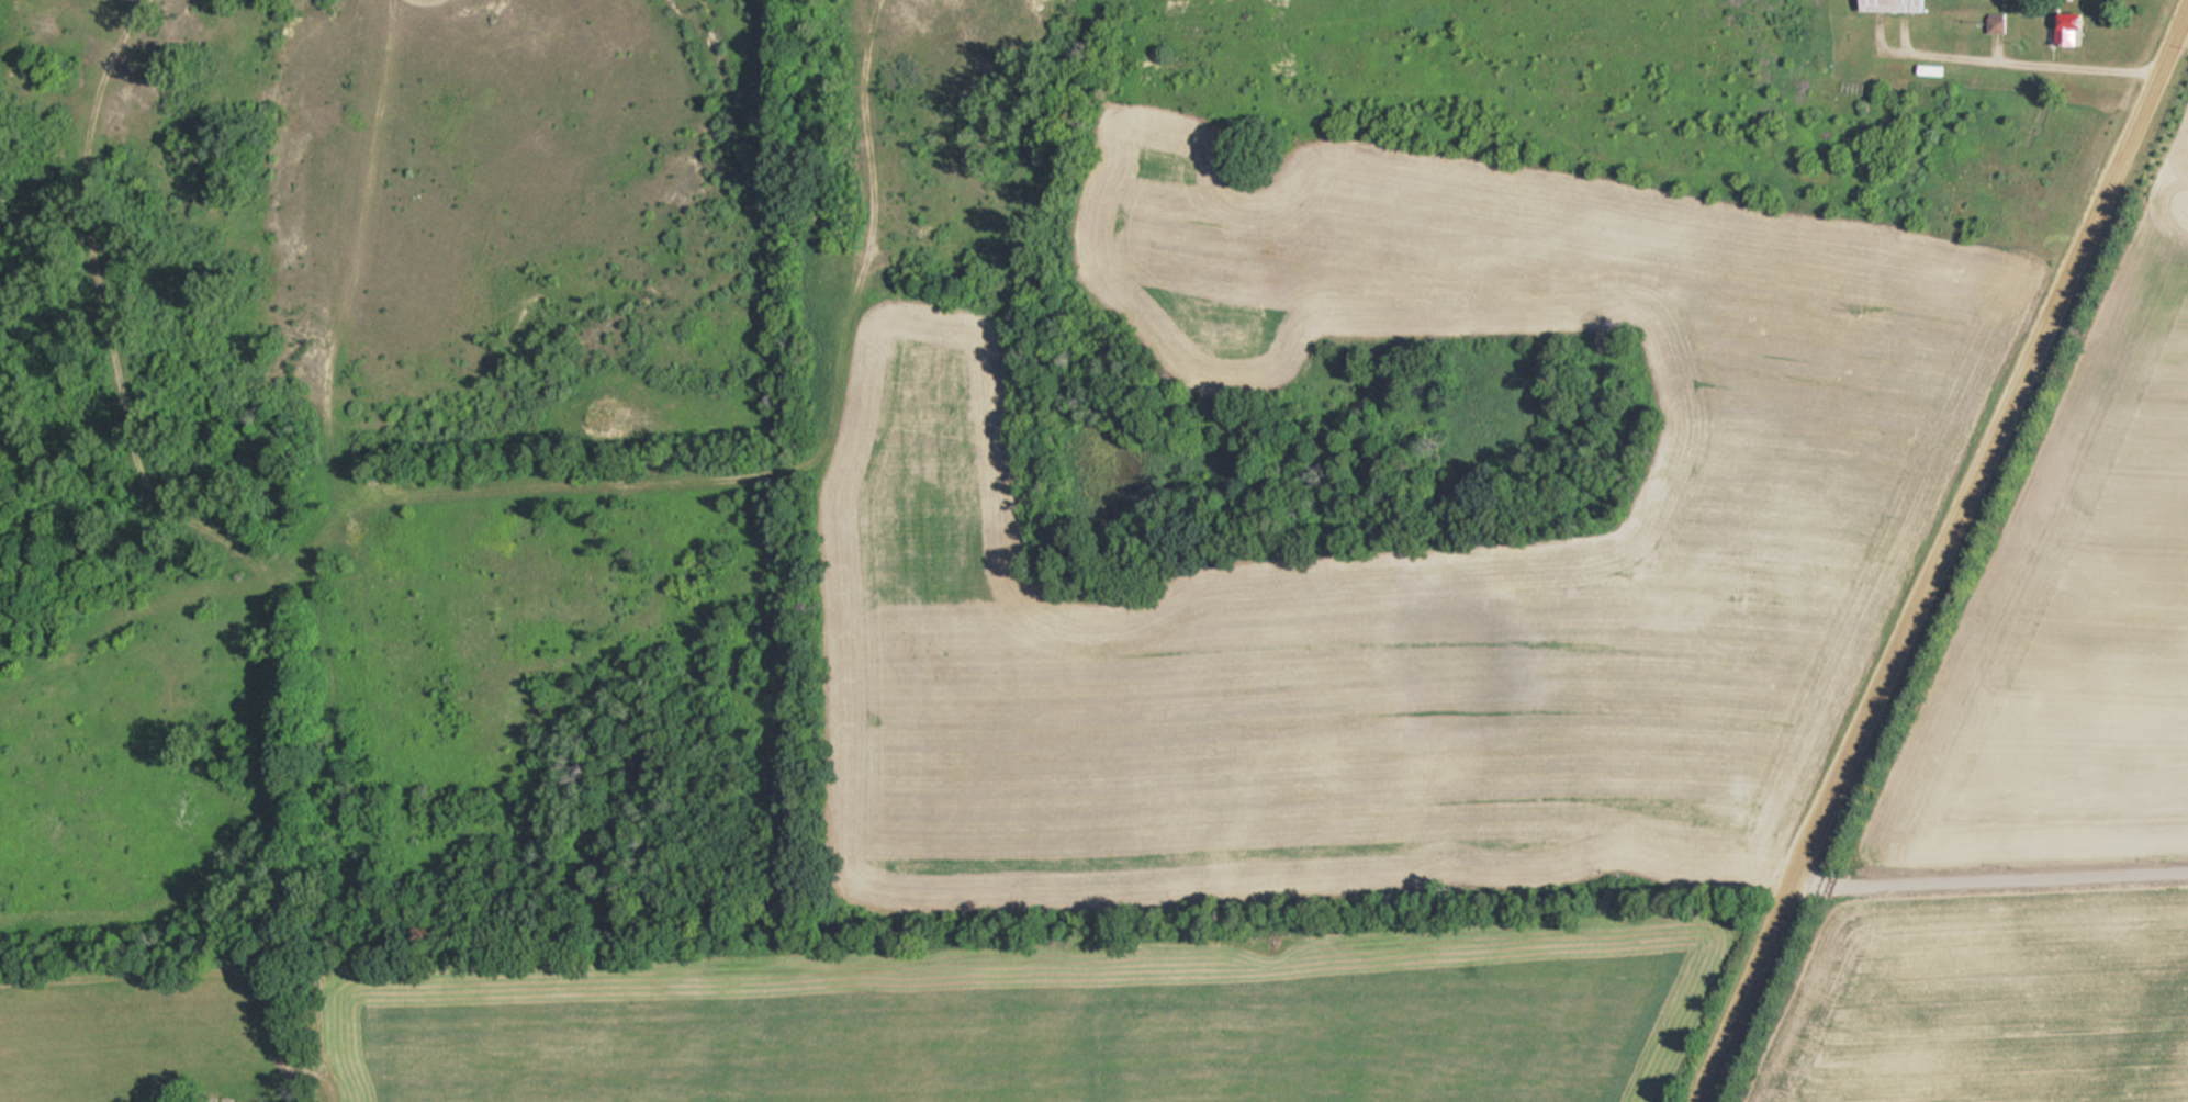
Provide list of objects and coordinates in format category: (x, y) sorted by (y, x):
building: (1885, 7)
building: (1991, 23)
building: (2060, 30)
road: (1934, 550)

